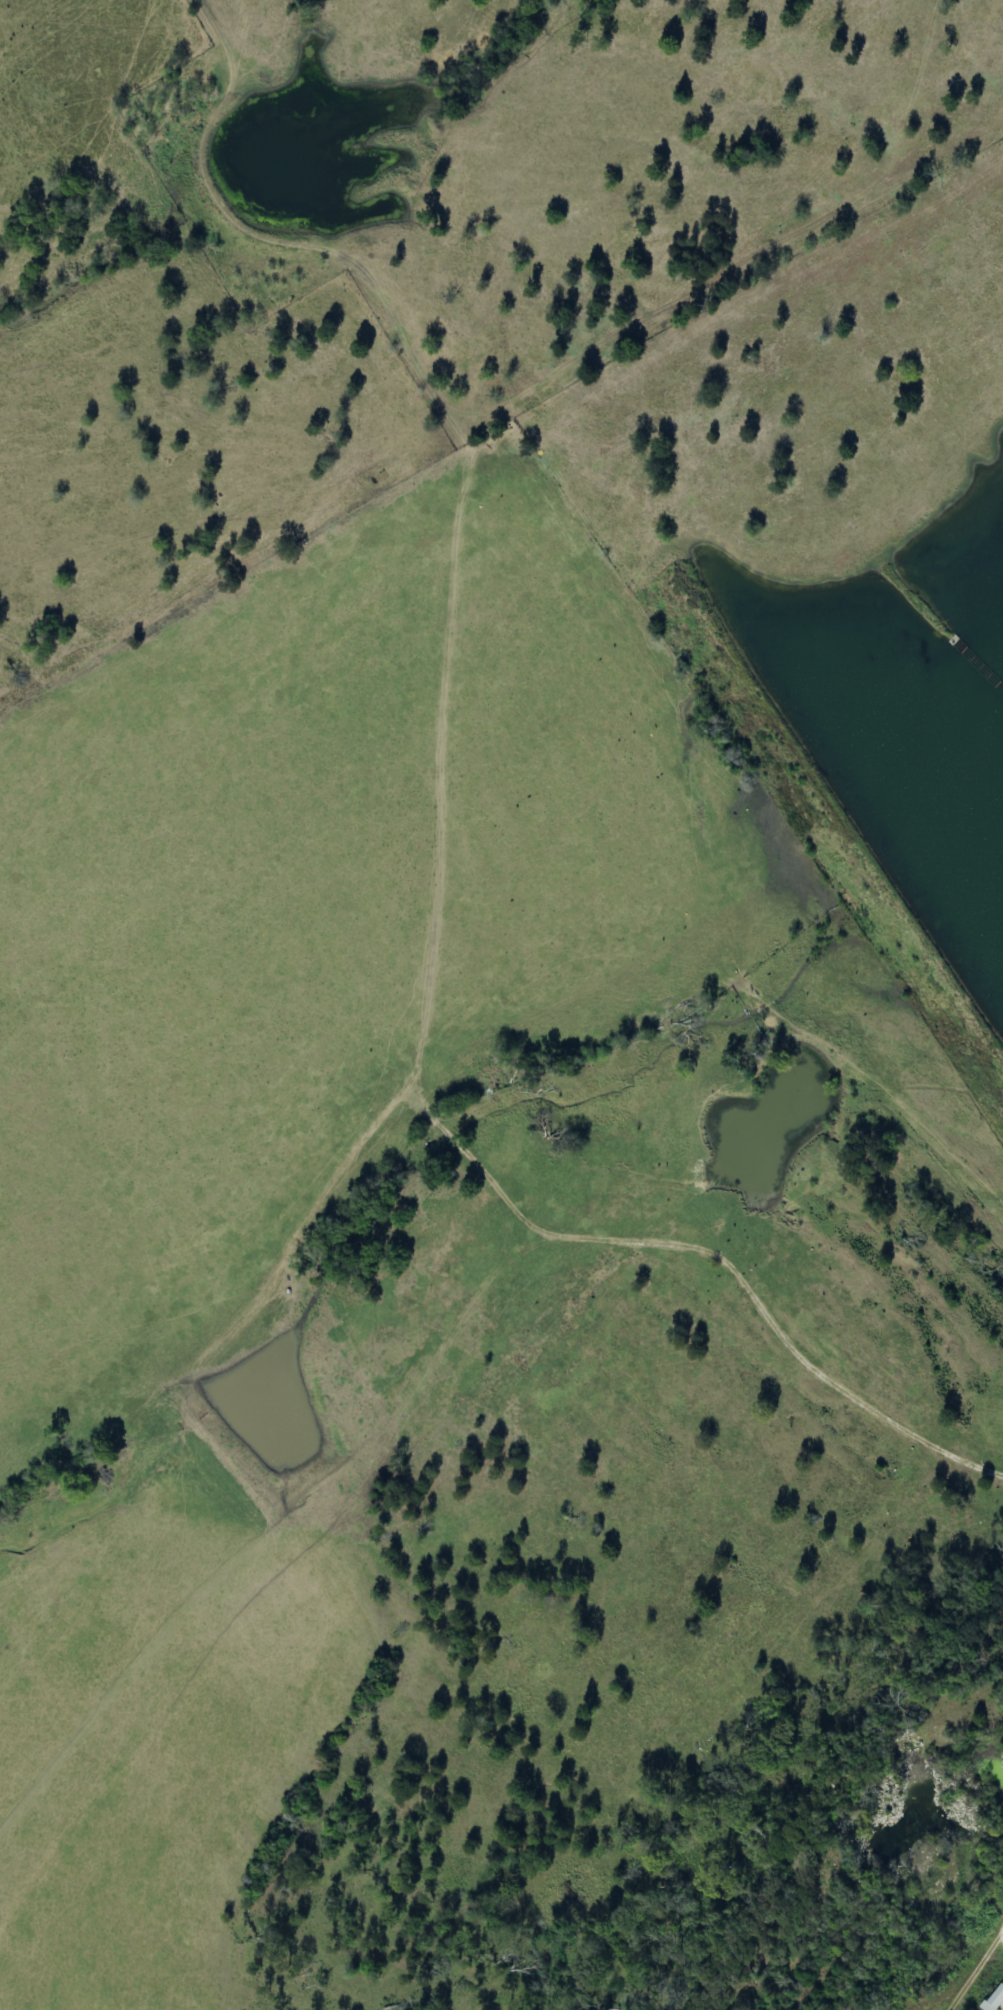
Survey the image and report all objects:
building: (995, 2001)
road: (1001, 2006)

